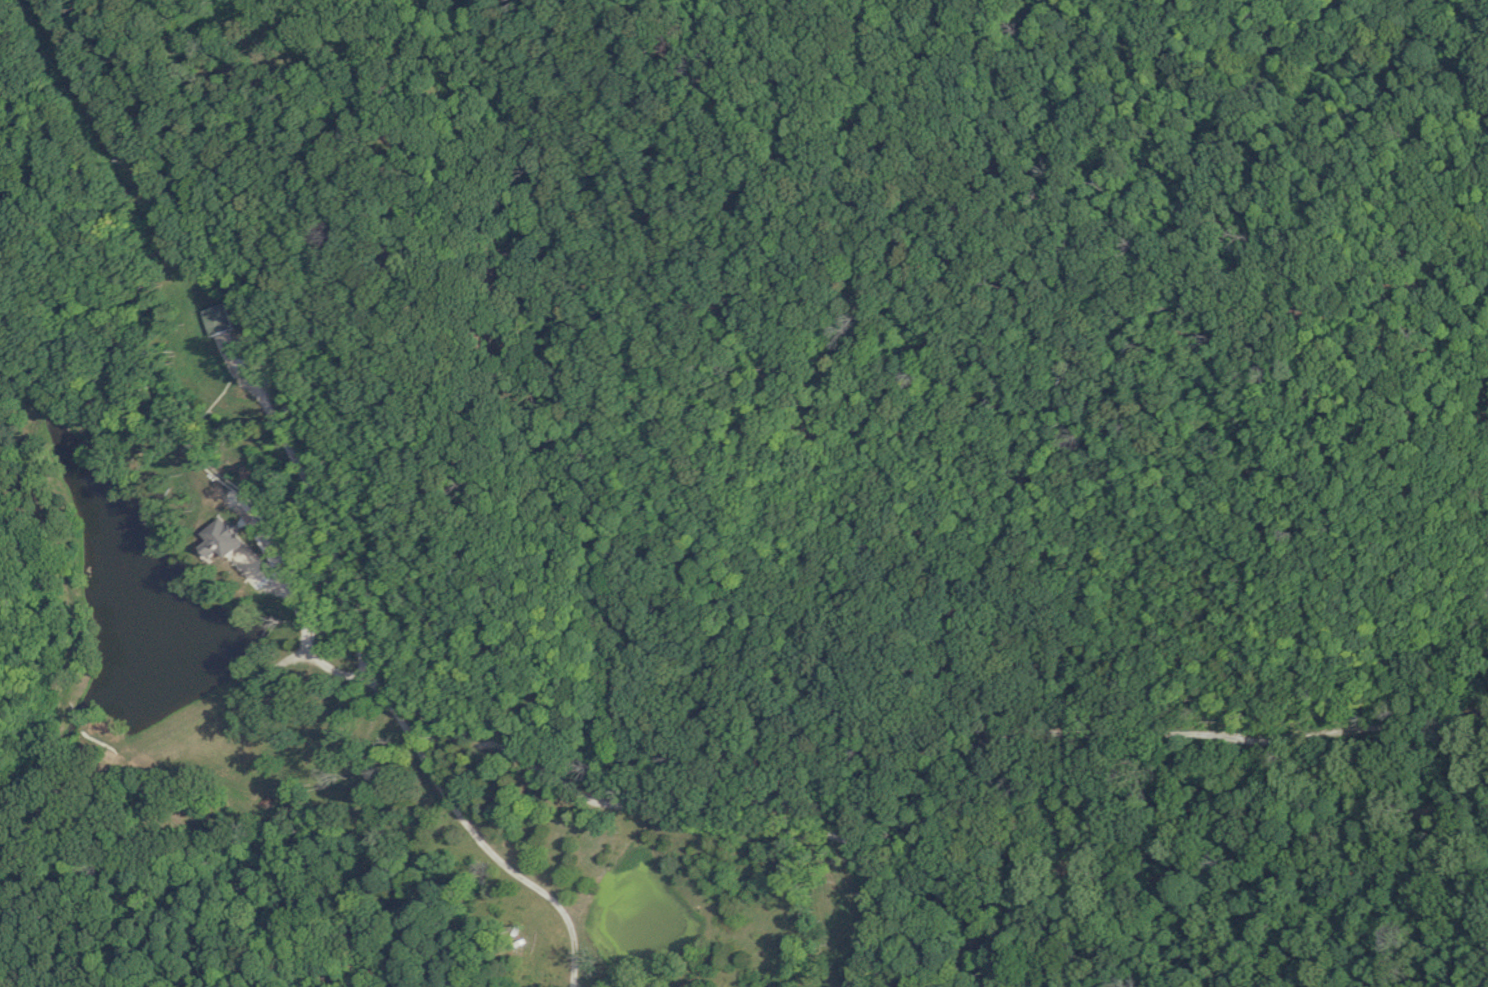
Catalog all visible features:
building: (219, 318)
building: (222, 539)
road: (304, 626)
road: (368, 686)

